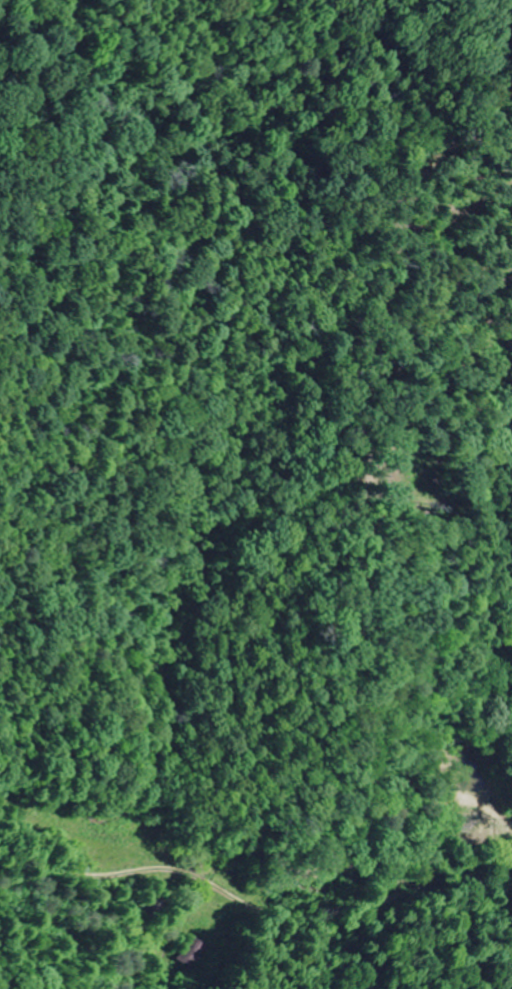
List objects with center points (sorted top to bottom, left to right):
building: (156, 907)
building: (193, 951)

